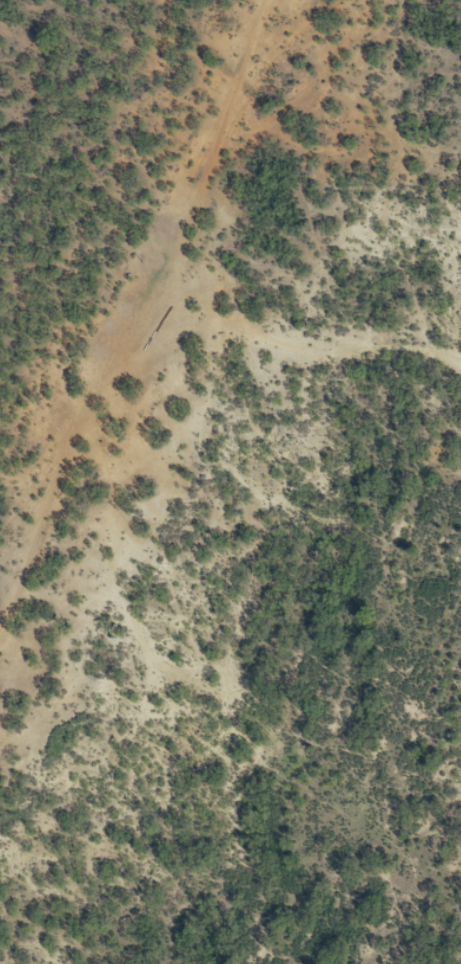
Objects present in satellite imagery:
road: (174, 275)

